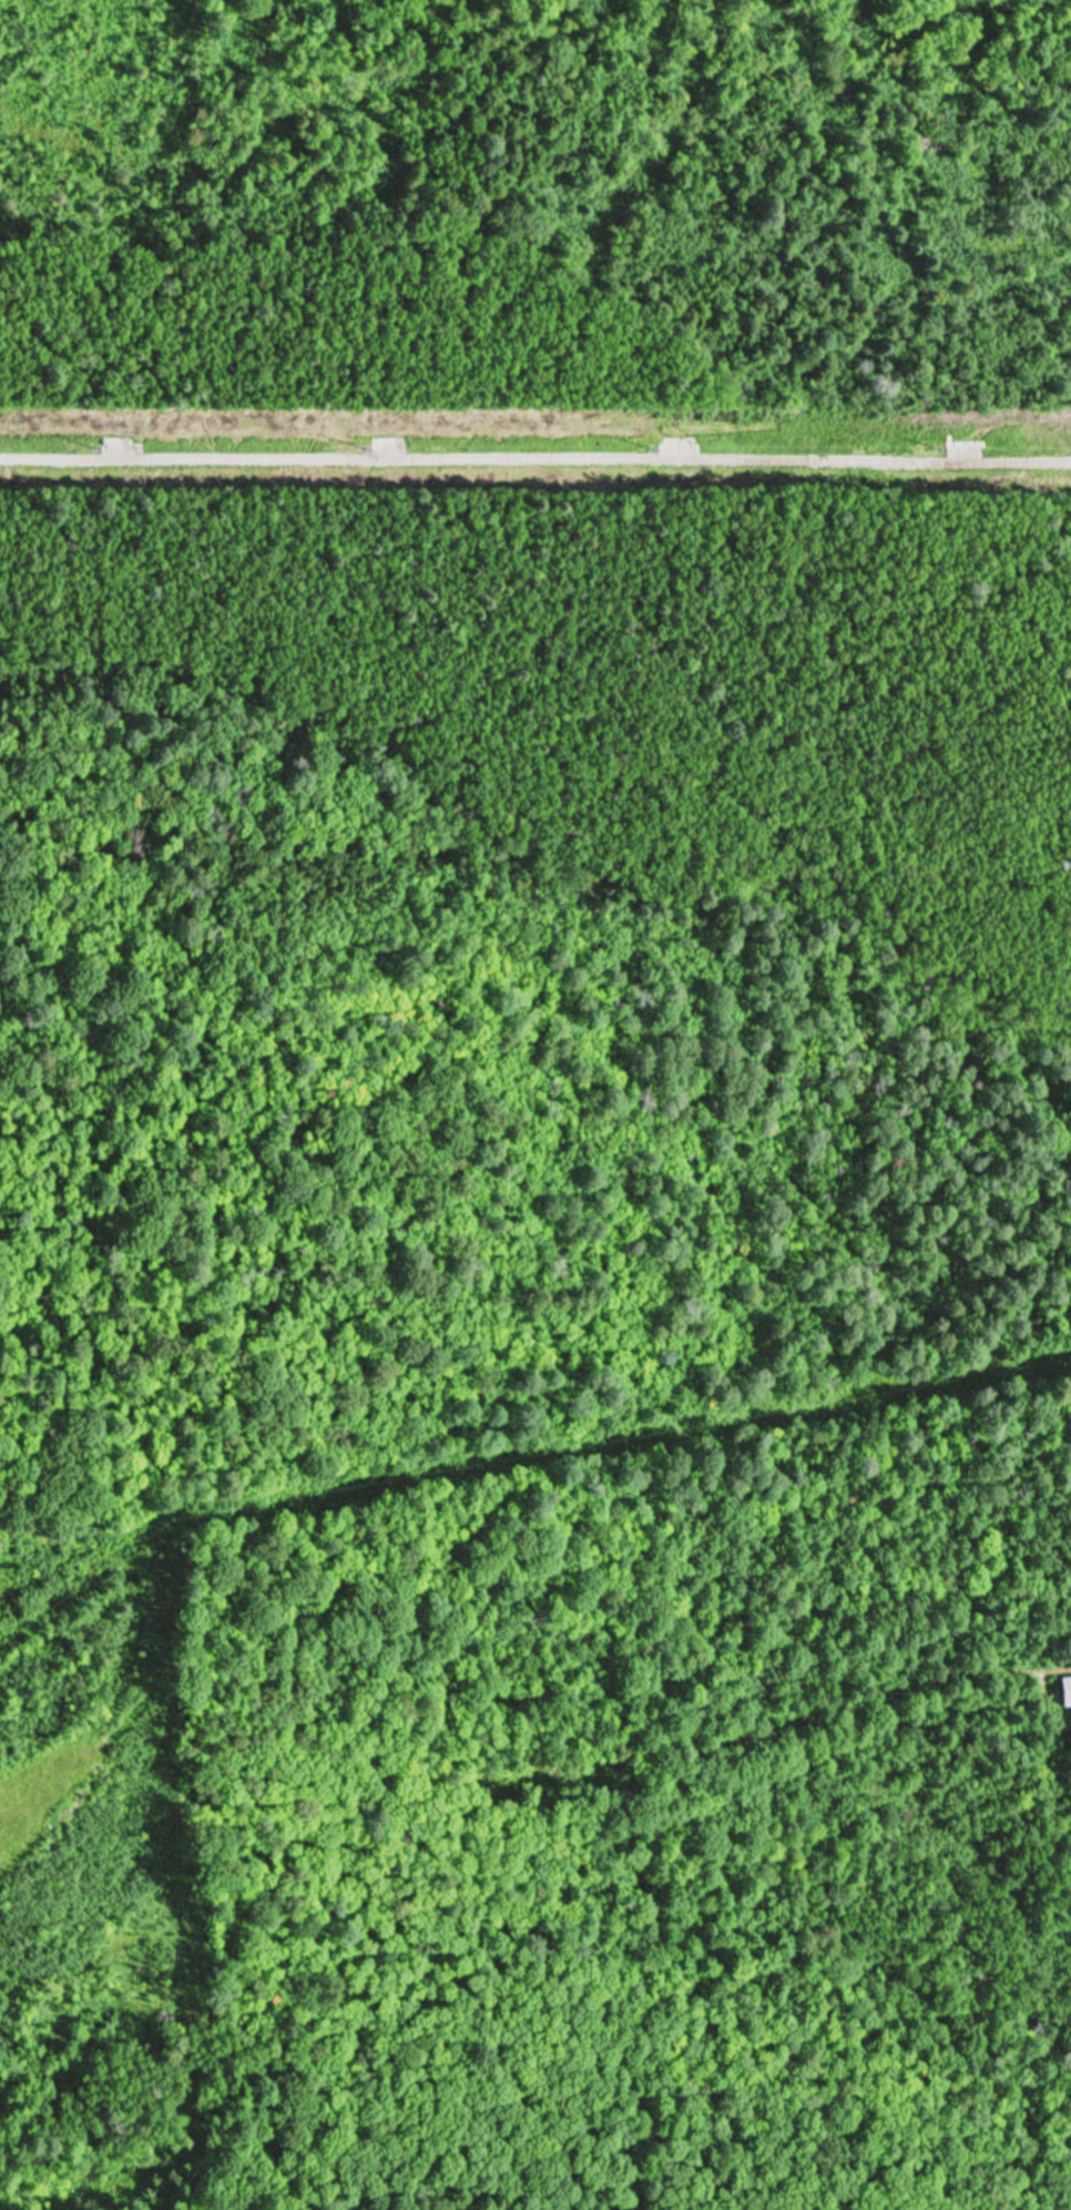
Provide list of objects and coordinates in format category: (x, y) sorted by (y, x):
road: (917, 1647)
building: (1062, 1690)

